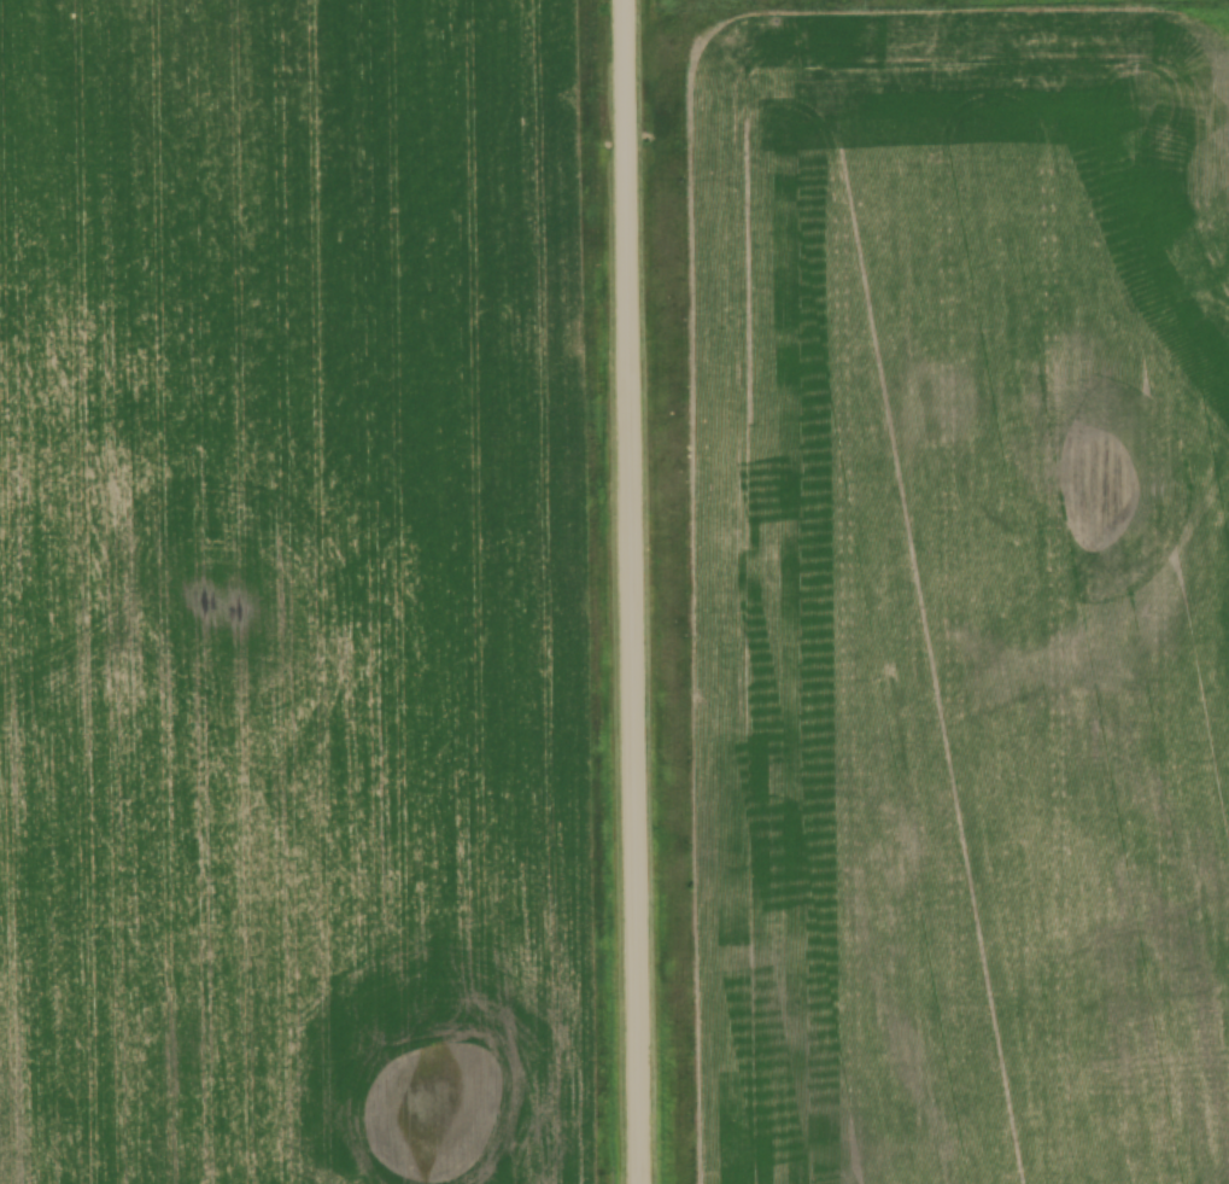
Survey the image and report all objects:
road: (631, 591)

